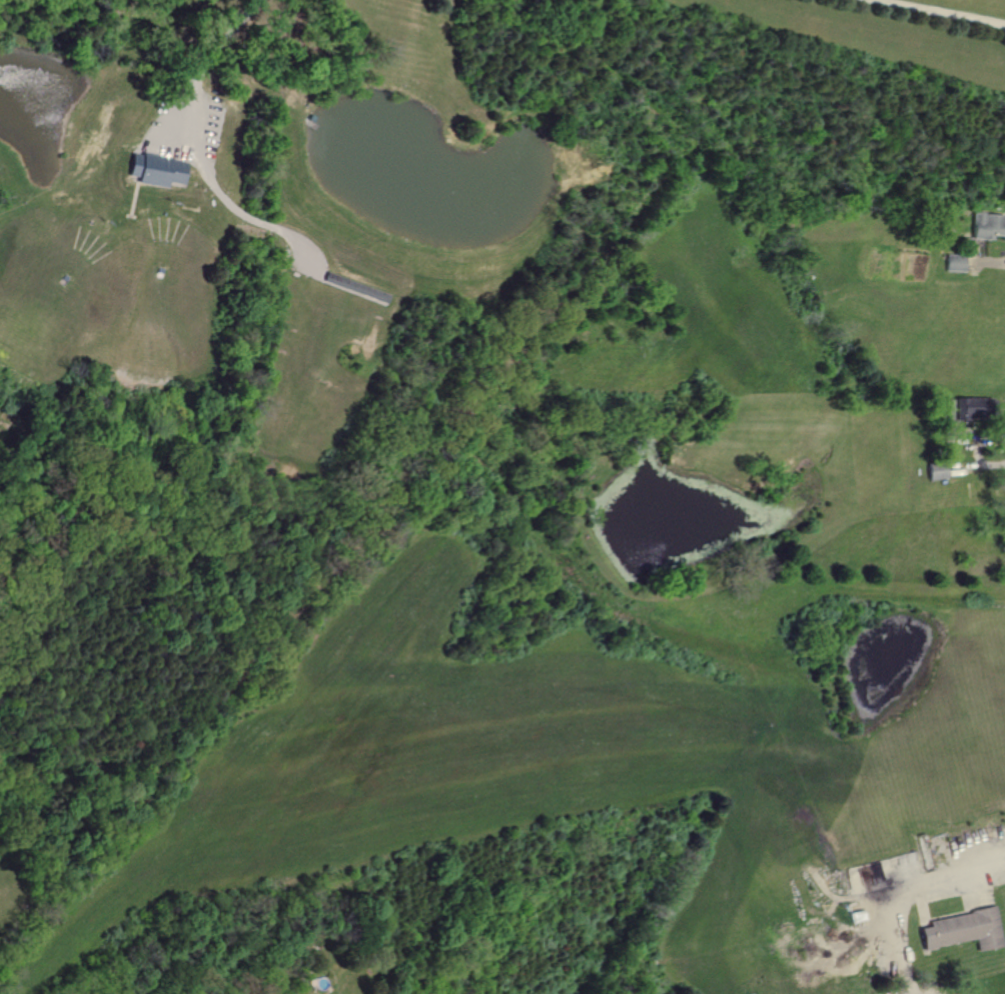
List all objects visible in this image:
road: (946, 12)
road: (210, 66)
building: (156, 170)
road: (243, 211)
building: (988, 226)
building: (956, 263)
building: (973, 407)
road: (906, 894)
building: (961, 929)

